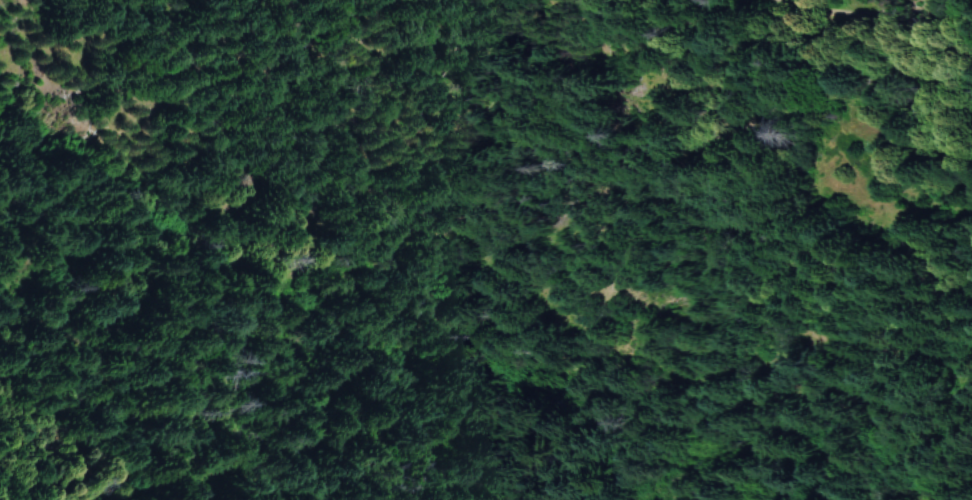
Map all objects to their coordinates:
road: (804, 31)
road: (957, 404)

